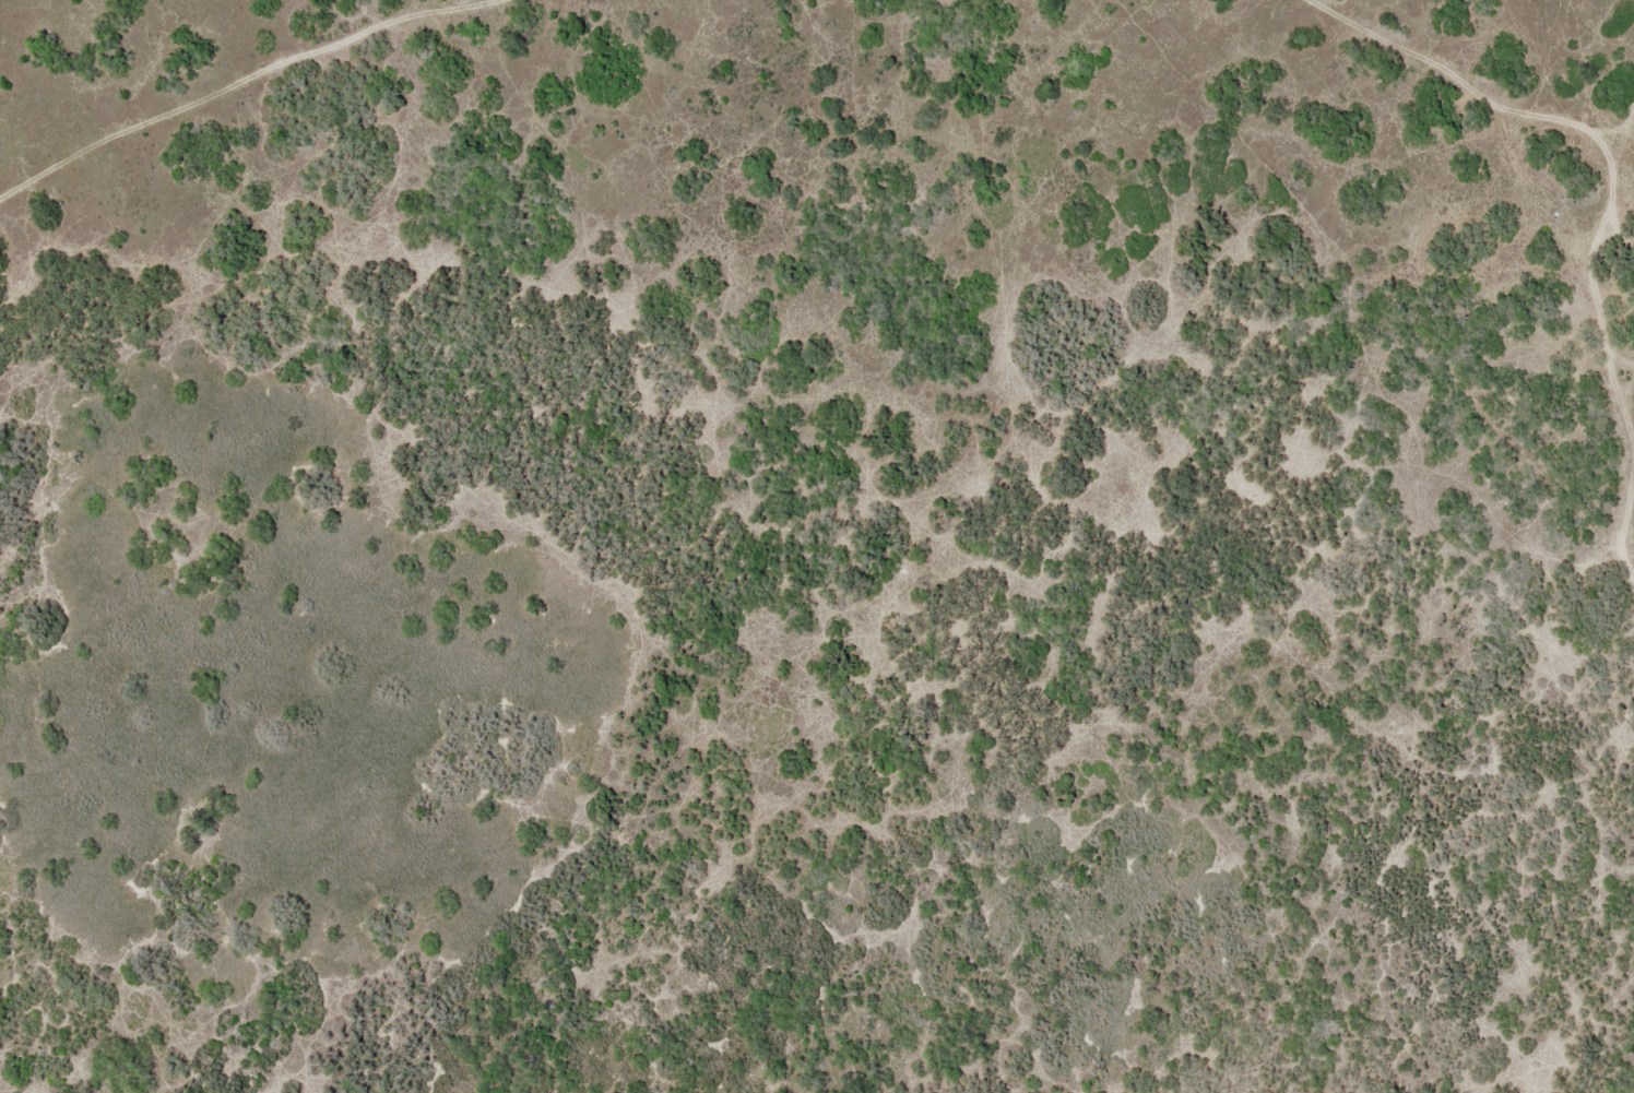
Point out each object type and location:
road: (1449, 68)
road: (263, 78)

